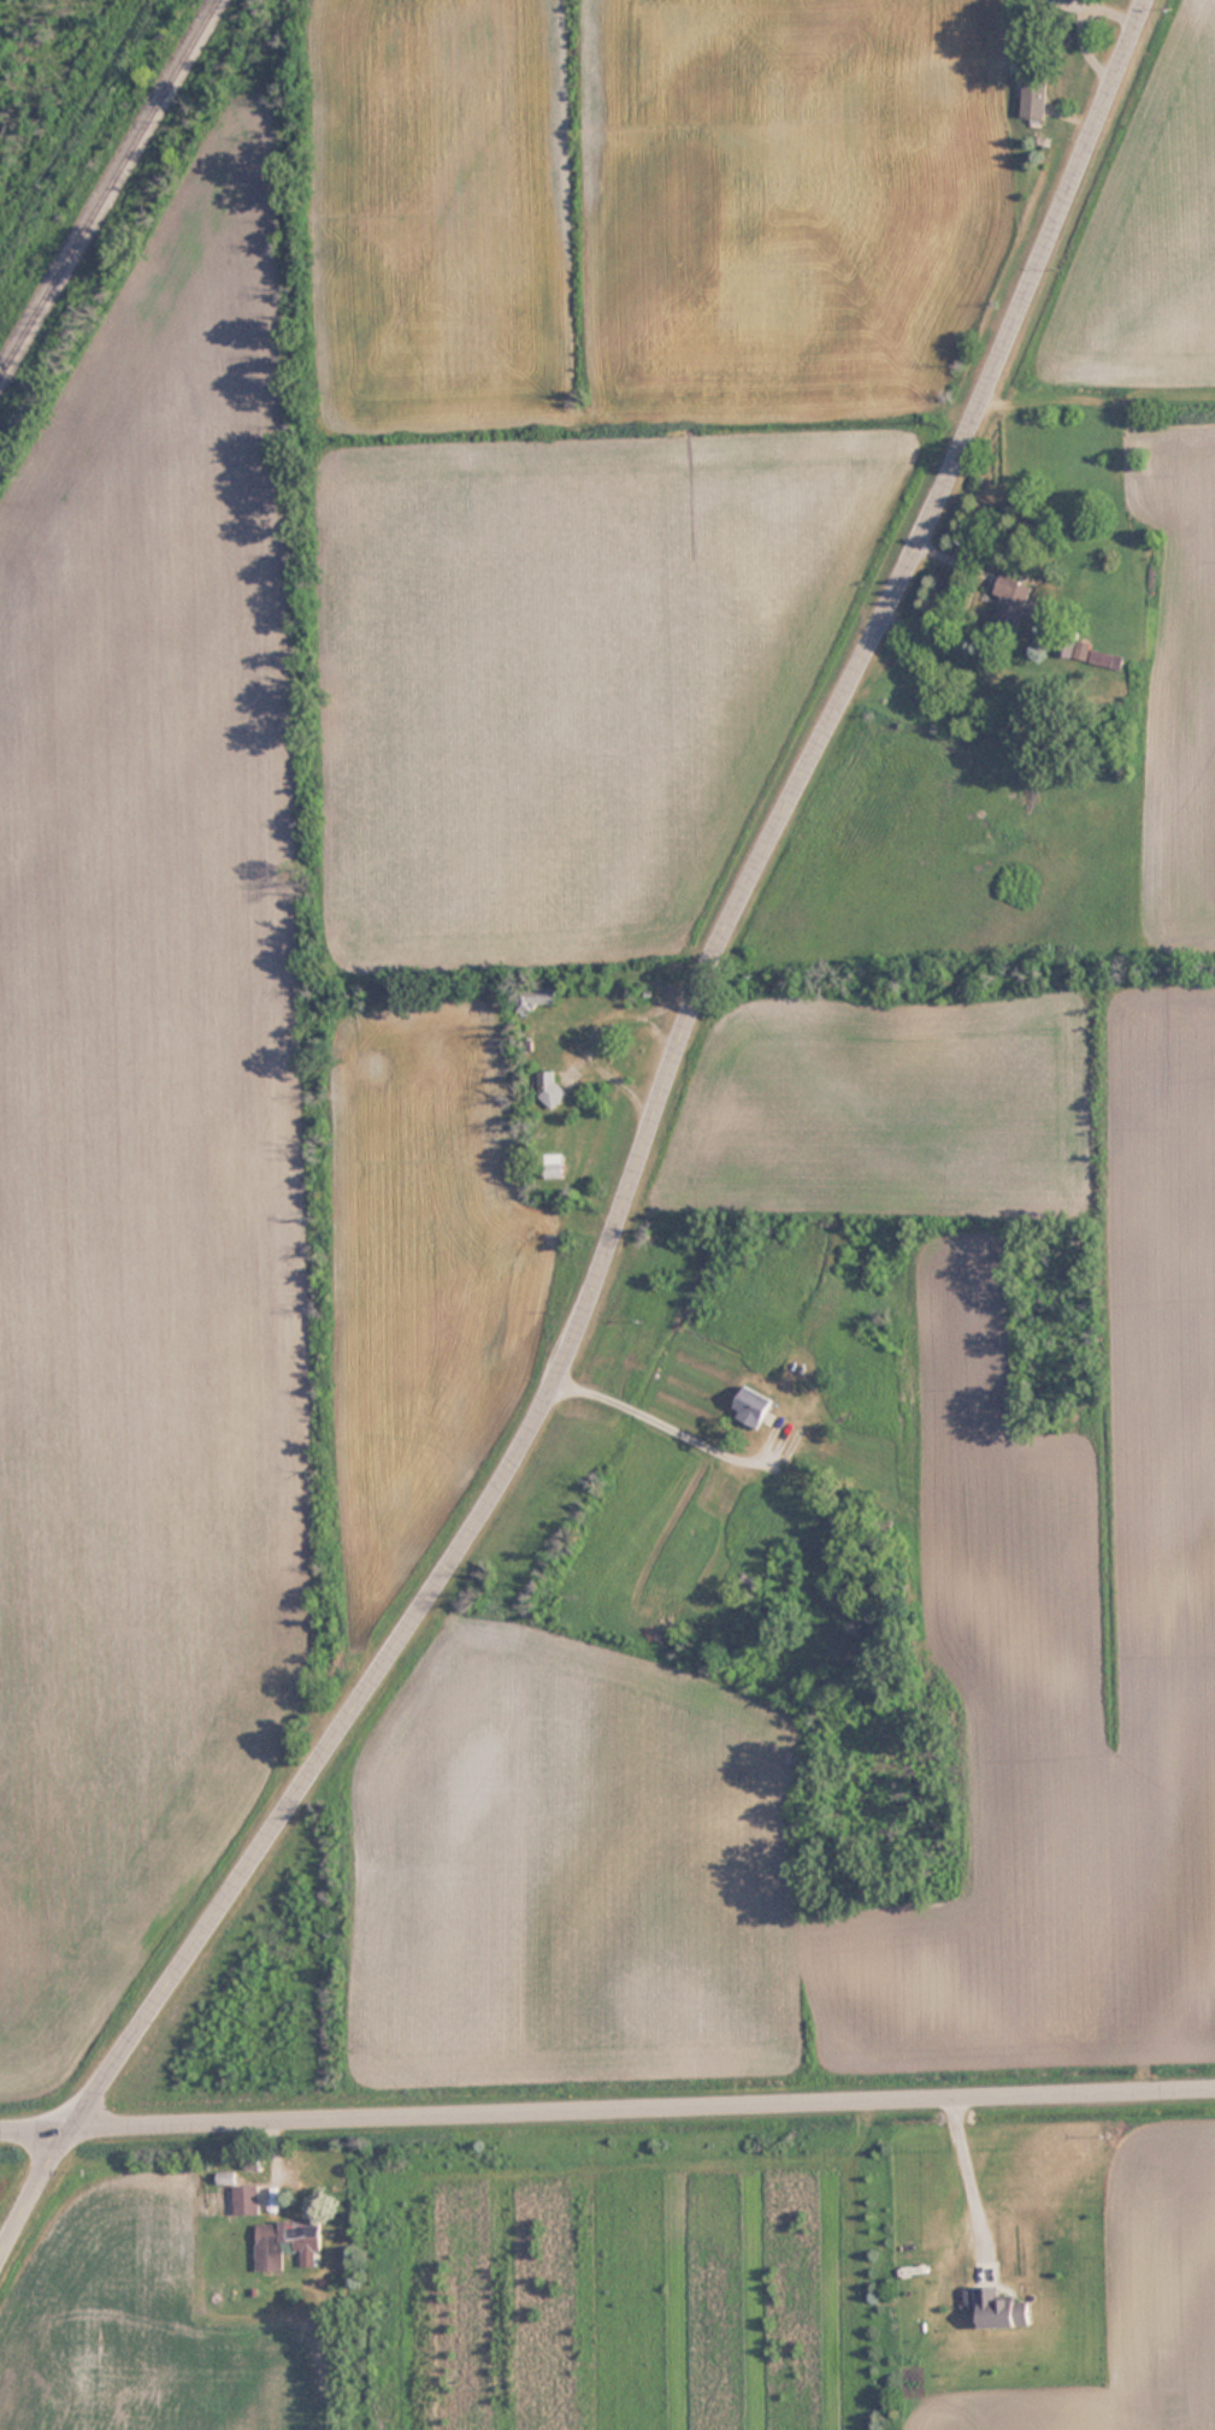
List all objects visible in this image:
building: (1034, 98)
railway: (107, 187)
building: (1011, 603)
building: (1098, 656)
building: (543, 993)
building: (553, 1092)
road: (667, 1099)
building: (554, 1164)
building: (753, 1405)
road: (635, 2107)
road: (28, 2128)
road: (971, 2181)
road: (28, 2188)
building: (244, 2199)
building: (285, 2243)
building: (1002, 2308)

